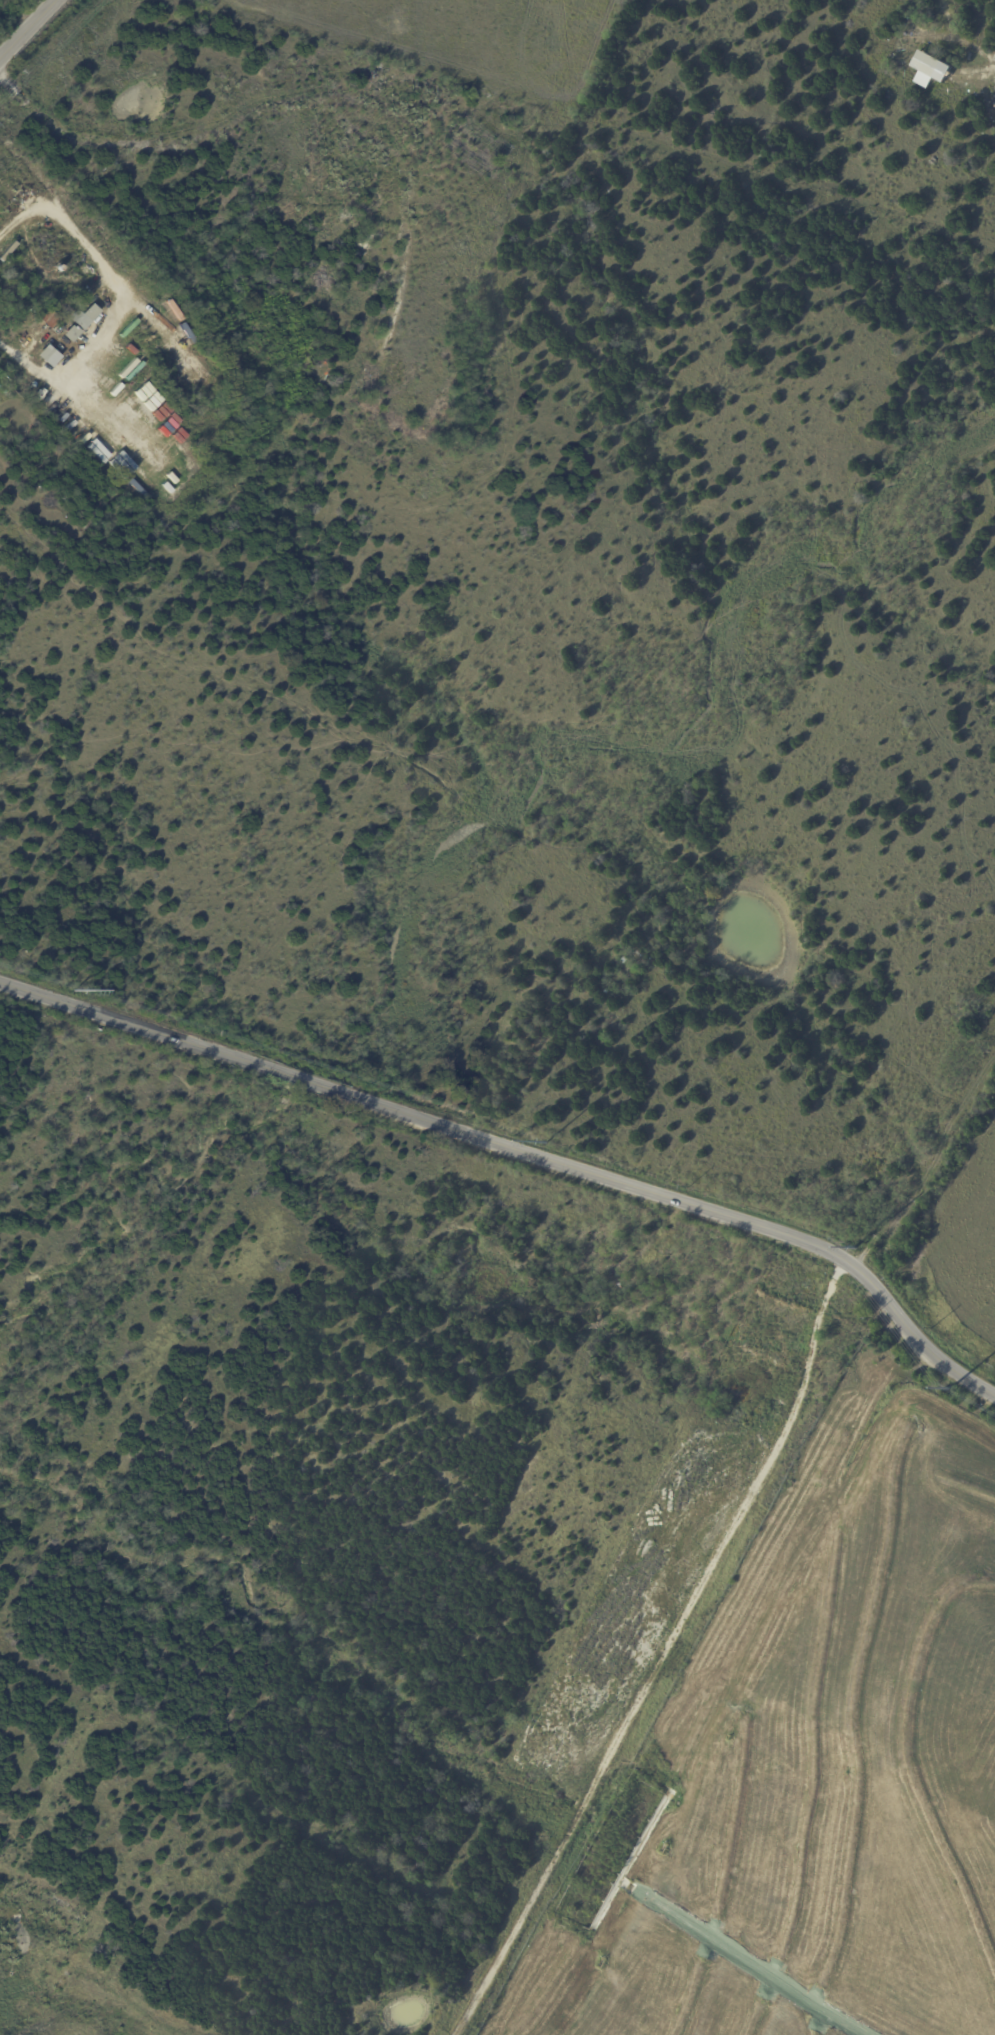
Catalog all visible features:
road: (23, 24)
building: (911, 43)
building: (931, 70)
building: (994, 99)
building: (113, 165)
building: (7, 251)
road: (121, 296)
building: (165, 314)
building: (47, 319)
building: (75, 320)
building: (161, 348)
building: (45, 355)
building: (6, 375)
building: (26, 387)
building: (626, 961)
road: (520, 1155)
road: (667, 1655)
landfill: (819, 1779)

